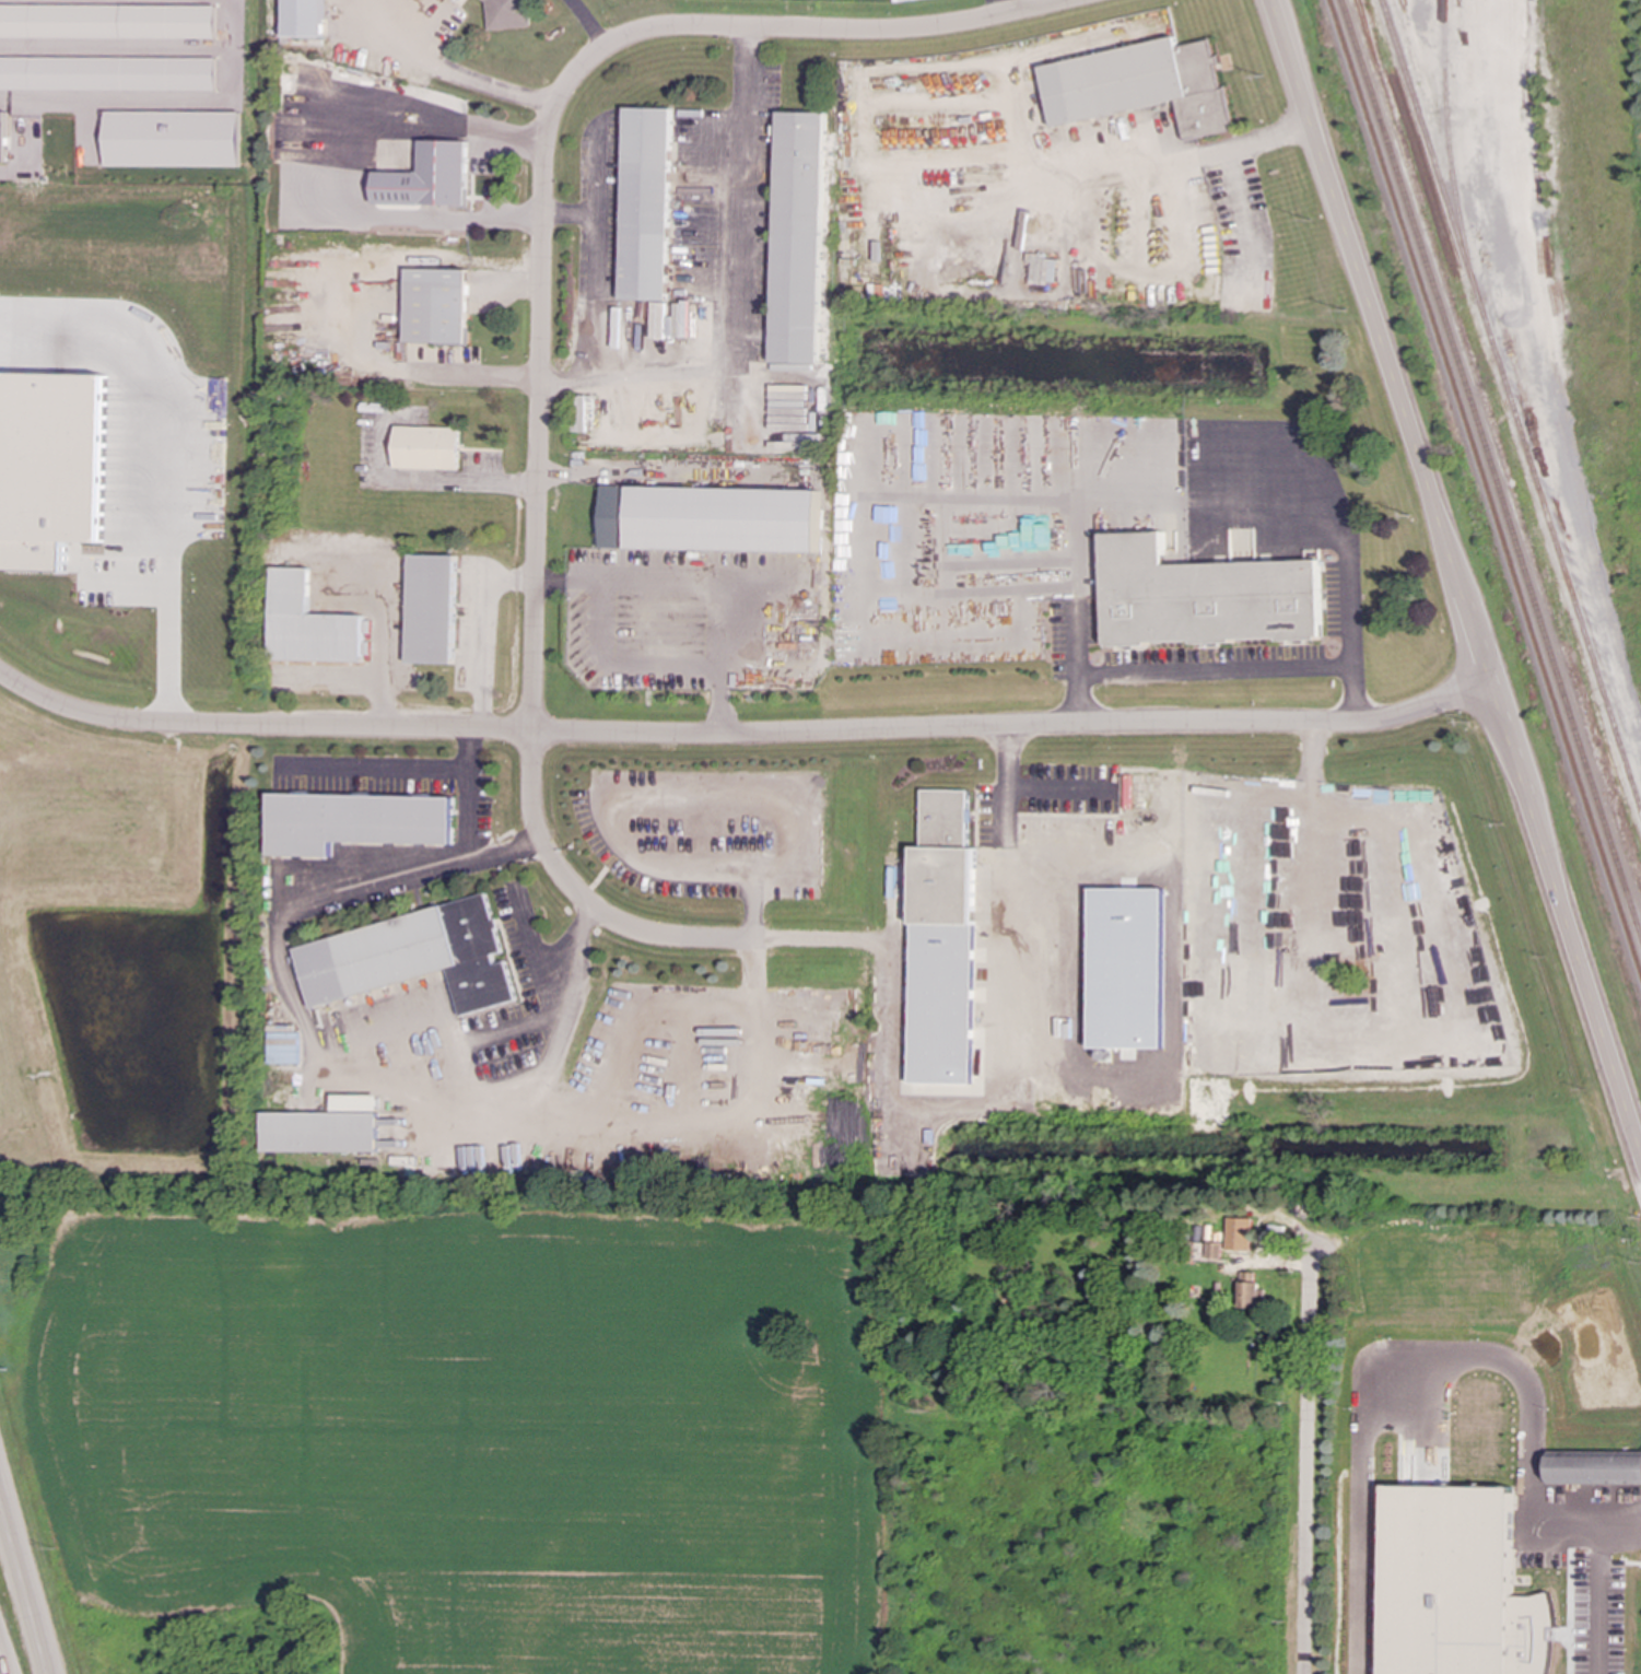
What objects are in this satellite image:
building: (459, 0)
building: (461, 0)
building: (896, 0)
road: (1007, 7)
building: (508, 13)
building: (107, 21)
road: (588, 23)
road: (453, 71)
building: (107, 73)
building: (1141, 85)
road: (164, 102)
building: (2, 136)
building: (173, 139)
railway: (1449, 151)
road: (344, 157)
road: (596, 168)
road: (1117, 168)
building: (427, 177)
building: (645, 203)
building: (798, 237)
road: (596, 271)
road: (541, 289)
road: (732, 292)
road: (351, 301)
building: (436, 306)
railway: (1511, 408)
building: (425, 447)
road: (1204, 449)
road: (167, 455)
railway: (1490, 468)
building: (54, 469)
road: (664, 473)
road: (433, 478)
railway: (1485, 485)
building: (708, 518)
road: (1455, 577)
road: (698, 585)
building: (1204, 596)
building: (430, 609)
building: (307, 624)
road: (478, 628)
road: (379, 649)
road: (1216, 674)
road: (335, 680)
road: (260, 726)
road: (1013, 728)
road: (377, 758)
building: (354, 821)
road: (464, 830)
road: (367, 885)
building: (945, 951)
building: (412, 957)
road: (886, 988)
road: (286, 997)
road: (569, 1003)
road: (489, 1038)
road: (708, 1122)
building: (325, 1127)
building: (1239, 1234)
building: (1214, 1250)
building: (1250, 1291)
road: (1419, 1345)
power tower: (5, 1370)
road: (1306, 1438)
building: (1595, 1467)
road: (23, 1587)
road: (1599, 1600)
road: (2, 1662)

